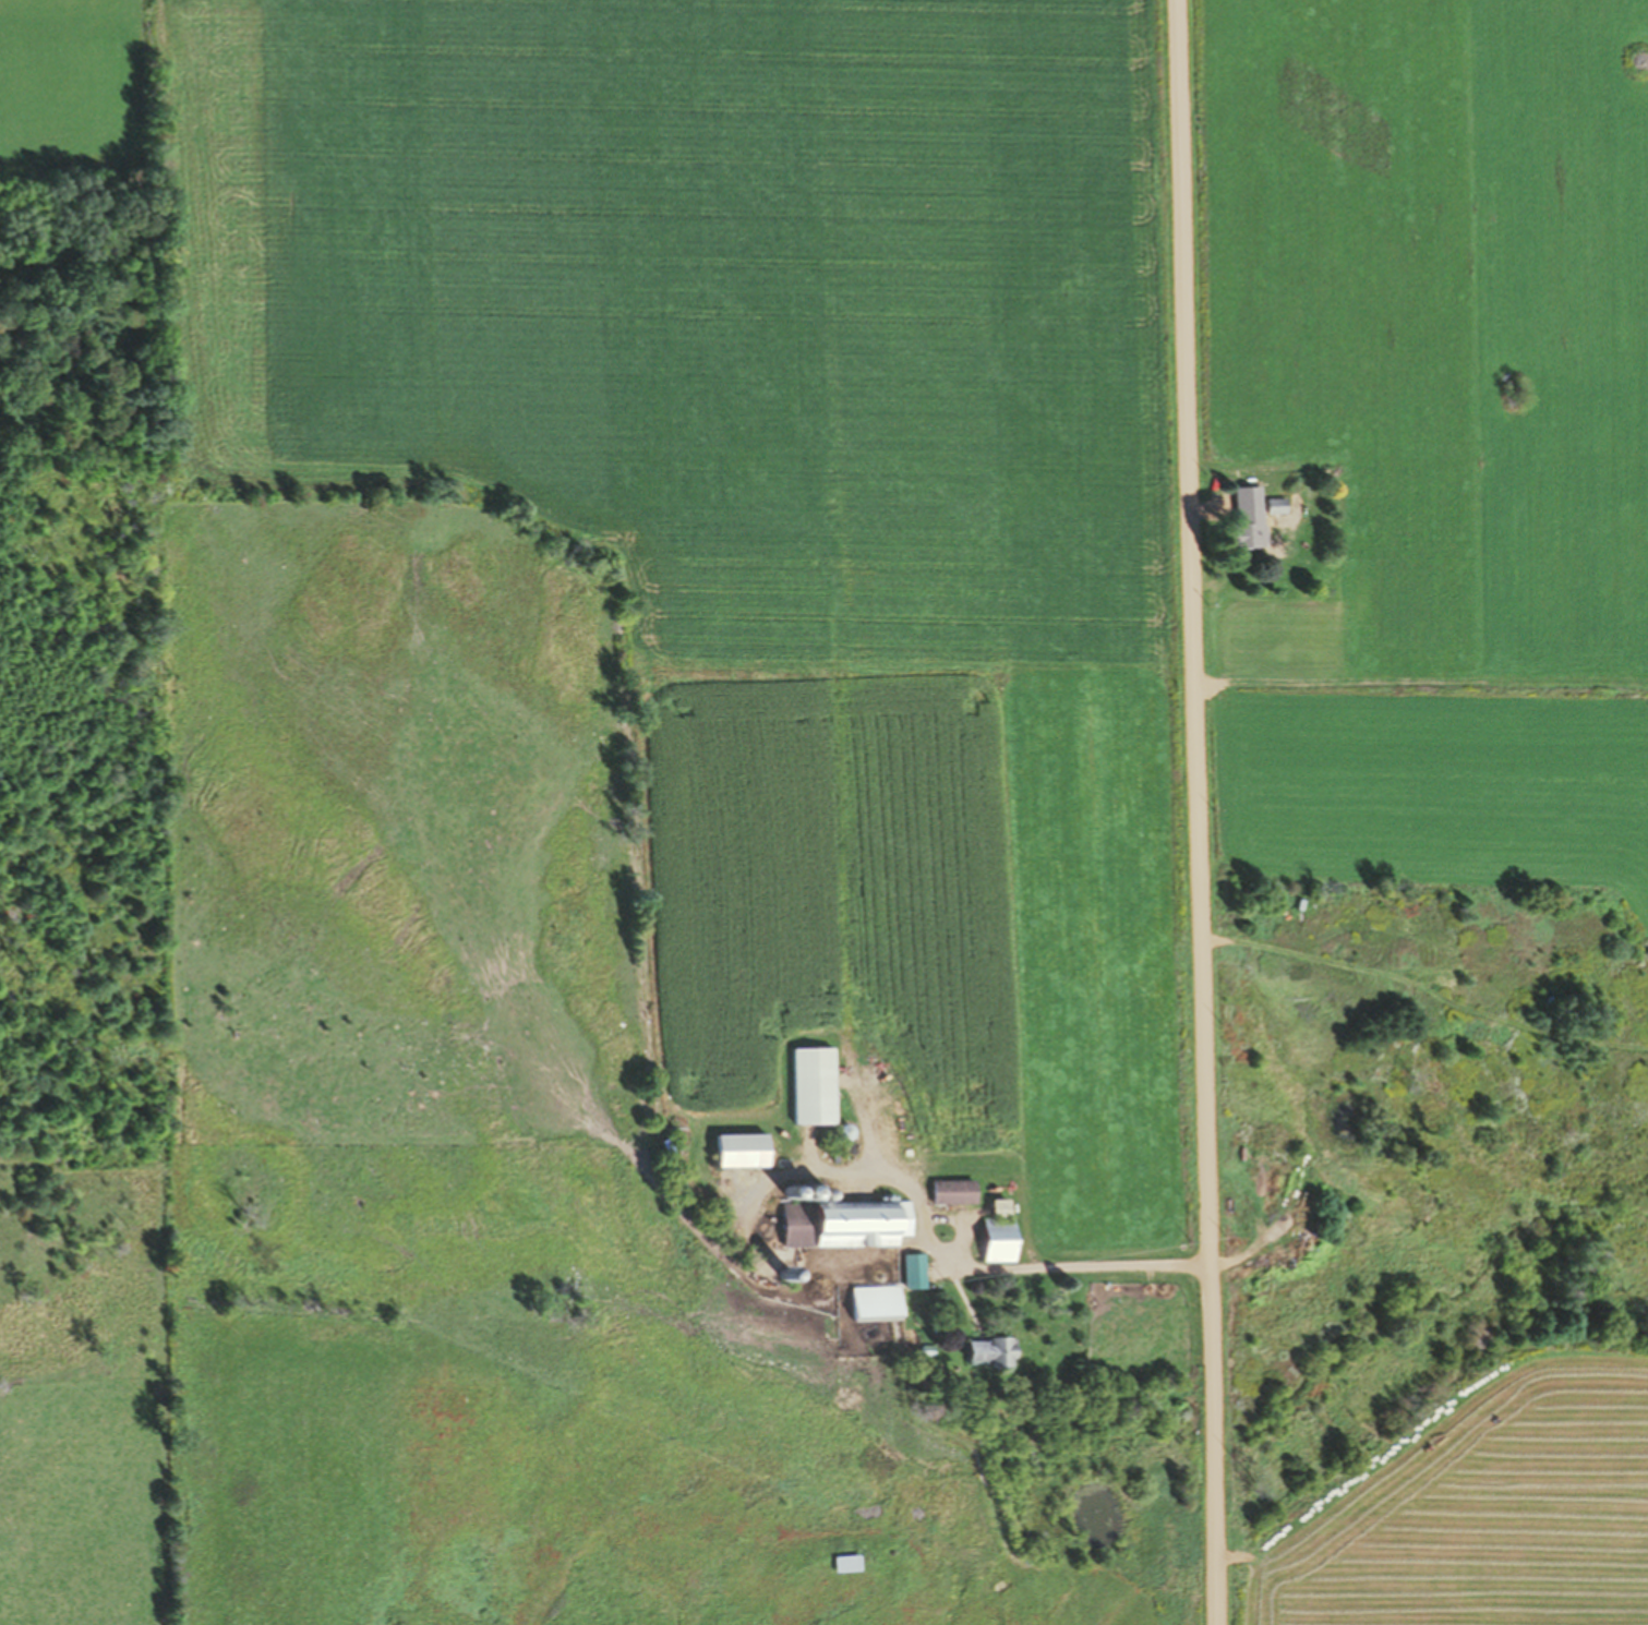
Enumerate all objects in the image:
building: (1275, 506)
building: (1248, 535)
road: (1194, 812)
building: (811, 1085)
building: (739, 1149)
building: (952, 1191)
building: (1263, 1200)
building: (1284, 1201)
building: (998, 1206)
building: (843, 1223)
building: (997, 1239)
building: (912, 1271)
building: (874, 1301)
building: (988, 1351)
building: (845, 1564)

